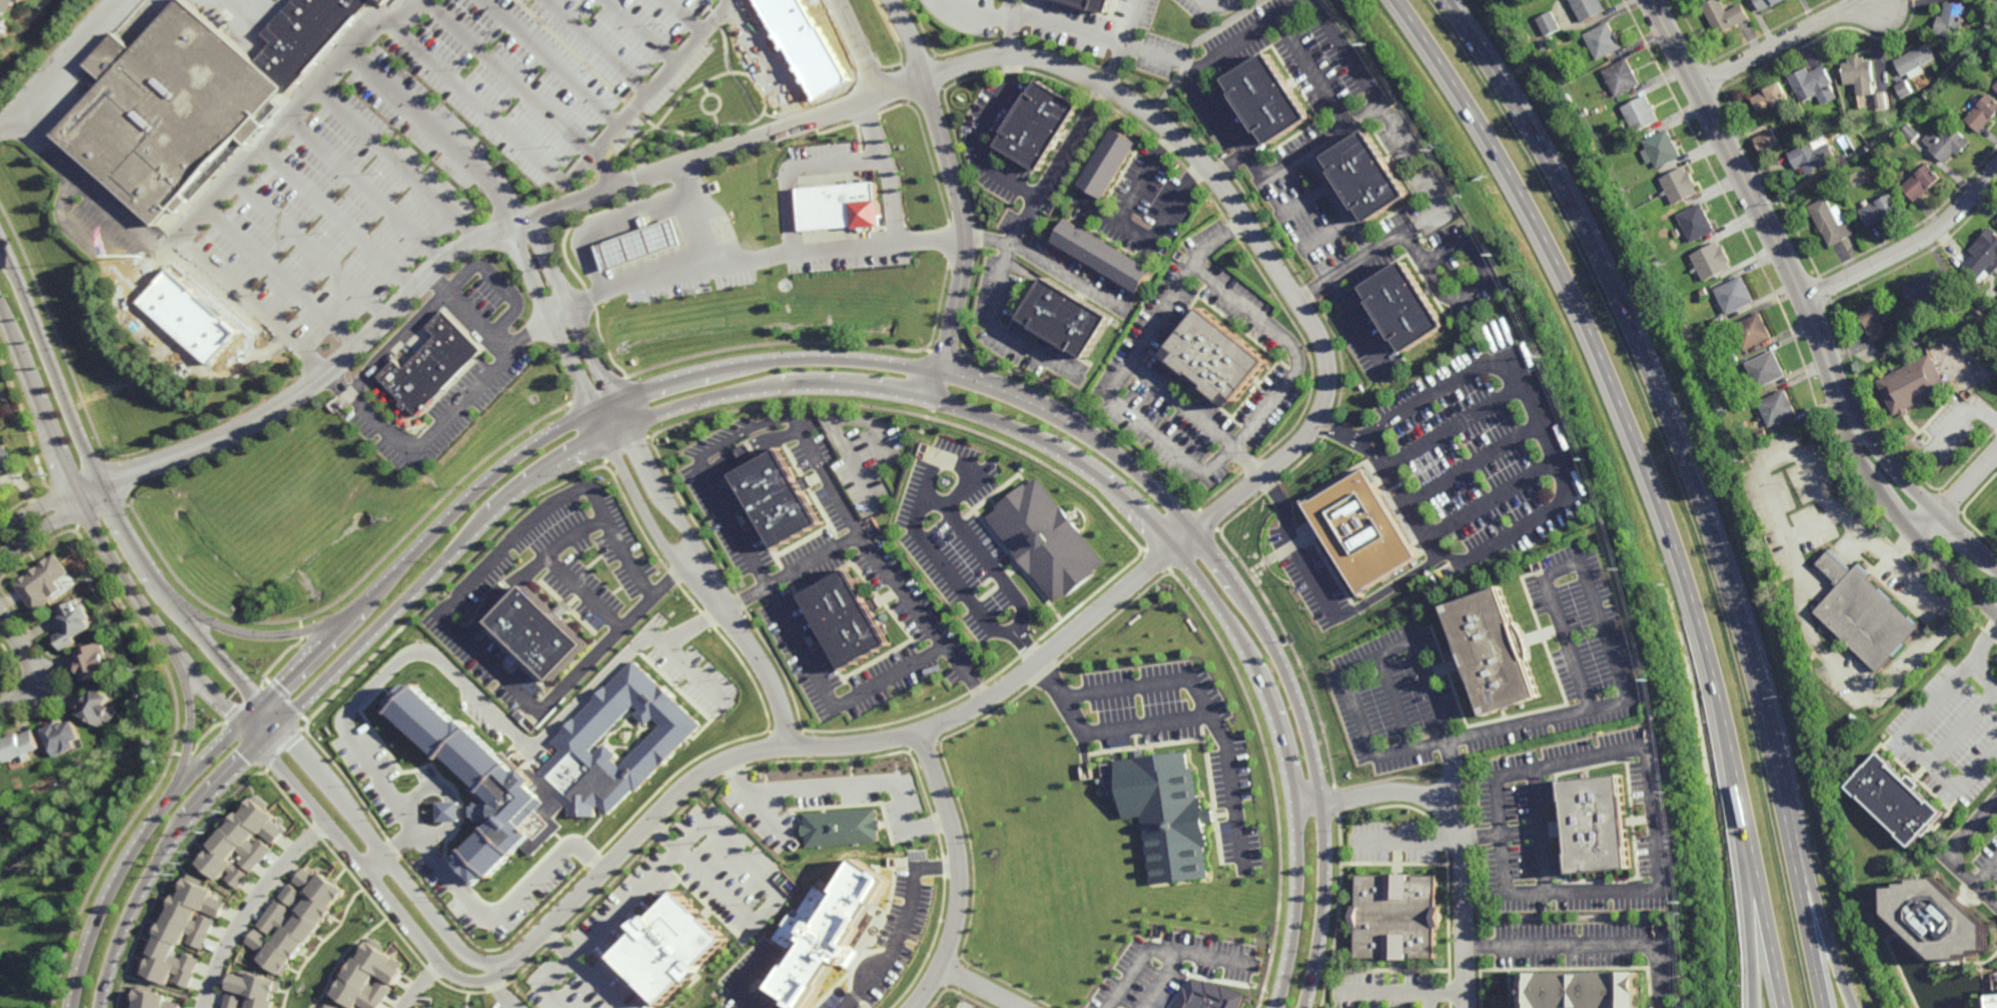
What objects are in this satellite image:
building: (25, 0)
building: (389, 1)
building: (381, 2)
building: (1767, 3)
building: (1095, 4)
road: (1217, 8)
building: (1588, 8)
building: (1724, 15)
building: (6, 16)
road: (686, 17)
building: (1952, 20)
building: (1549, 23)
road: (1010, 28)
road: (642, 32)
building: (303, 36)
road: (1251, 37)
road: (1787, 38)
building: (1604, 41)
road: (1116, 43)
road: (1125, 43)
power tower: (1368, 44)
road: (598, 46)
road: (856, 46)
road: (1196, 47)
road: (1340, 55)
building: (1915, 58)
road: (552, 63)
road: (56, 65)
building: (1552, 73)
road: (1313, 75)
building: (1622, 76)
building: (1865, 81)
building: (1813, 84)
building: (1995, 86)
building: (1904, 89)
road: (524, 90)
road: (864, 98)
building: (1272, 98)
building: (1569, 99)
building: (1771, 99)
building: (169, 109)
building: (1983, 112)
building: (1641, 113)
building: (1039, 125)
road: (1398, 129)
building: (1909, 133)
road: (985, 138)
road: (438, 139)
building: (1766, 141)
building: (1946, 143)
road: (1321, 146)
power tower: (1435, 147)
building: (1660, 149)
building: (1812, 157)
building: (1110, 164)
road: (1057, 165)
road: (395, 166)
road: (1229, 166)
road: (1254, 167)
road: (799, 169)
road: (888, 169)
road: (573, 177)
building: (1368, 177)
road: (1148, 180)
building: (1920, 182)
building: (1678, 186)
road: (221, 190)
road: (365, 192)
road: (960, 196)
road: (1337, 201)
road: (1175, 203)
road: (1303, 203)
road: (1757, 205)
building: (842, 207)
building: (1879, 210)
road: (1100, 213)
road: (700, 215)
road: (1417, 219)
road: (339, 220)
road: (610, 220)
building: (1828, 222)
building: (1696, 223)
road: (1135, 234)
road: (1326, 239)
road: (989, 243)
building: (642, 245)
road: (1909, 246)
road: (309, 250)
road: (106, 252)
power tower: (1497, 255)
road: (767, 256)
building: (1984, 256)
building: (1104, 257)
road: (1476, 261)
building: (1711, 261)
road: (1422, 263)
road: (1333, 275)
road: (281, 278)
road: (1066, 278)
road: (499, 283)
building: (1925, 287)
building: (1671, 290)
building: (1704, 292)
building: (1734, 295)
road: (1170, 302)
road: (251, 304)
building: (1406, 309)
road: (575, 311)
road: (473, 313)
road: (1246, 313)
building: (1066, 317)
road: (554, 319)
building: (1877, 319)
road: (1353, 324)
building: (1720, 328)
building: (1752, 331)
road: (996, 332)
building: (1887, 354)
power tower: (1547, 357)
building: (1734, 358)
building: (1217, 360)
building: (1738, 364)
road: (193, 365)
building: (437, 365)
building: (1766, 370)
building: (1913, 385)
road: (769, 388)
building: (1744, 404)
building: (1777, 408)
road: (1409, 411)
road: (1965, 416)
road: (1199, 418)
road: (447, 419)
road: (1251, 420)
road: (1067, 421)
road: (858, 422)
road: (1450, 430)
road: (1534, 431)
building: (1762, 433)
road: (746, 435)
road: (1156, 435)
building: (5, 459)
road: (857, 461)
power tower: (1590, 461)
road: (1469, 466)
road: (956, 470)
road: (1650, 480)
road: (1691, 482)
building: (1, 487)
road: (925, 493)
road: (1919, 494)
road: (1956, 494)
road: (963, 495)
road: (1403, 498)
building: (778, 499)
road: (937, 501)
road: (109, 502)
road: (1489, 503)
road: (49, 513)
road: (1908, 525)
road: (1815, 528)
building: (1364, 530)
road: (687, 532)
building: (1047, 539)
road: (1501, 539)
road: (102, 545)
road: (664, 546)
road: (1295, 548)
road: (879, 566)
road: (994, 568)
power tower: (1620, 568)
road: (1833, 568)
road: (1564, 569)
road: (531, 573)
road: (793, 573)
building: (39, 582)
road: (766, 582)
road: (1803, 584)
road: (961, 588)
road: (1388, 588)
road: (582, 594)
building: (1862, 612)
road: (442, 619)
building: (845, 619)
building: (72, 623)
road: (262, 636)
building: (541, 636)
road: (1984, 646)
road: (1025, 650)
building: (1496, 650)
road: (1384, 658)
building: (92, 661)
road: (32, 663)
road: (688, 670)
road: (887, 677)
road: (1984, 679)
road: (383, 680)
power tower: (1651, 683)
road: (1131, 684)
road: (1069, 691)
road: (1203, 696)
road: (776, 703)
building: (95, 707)
road: (192, 714)
road: (1152, 722)
road: (1966, 727)
road: (1501, 728)
parking lot: (1184, 733)
building: (61, 738)
road: (226, 743)
building: (19, 746)
road: (828, 747)
road: (1918, 748)
building: (552, 764)
building: (0, 766)
road: (1569, 766)
road: (1450, 774)
road: (837, 787)
road: (1232, 787)
road: (426, 788)
power tower: (1668, 792)
building: (1896, 799)
road: (1536, 803)
building: (841, 809)
building: (448, 811)
road: (449, 812)
building: (1165, 813)
road: (763, 816)
road: (1651, 821)
building: (1596, 826)
building: (838, 827)
road: (1457, 828)
road: (438, 833)
road: (1499, 833)
road: (1798, 833)
road: (661, 835)
road: (1497, 837)
building: (246, 842)
road: (1410, 846)
road: (391, 852)
road: (1945, 854)
road: (386, 858)
road: (1544, 861)
road: (1741, 866)
road: (954, 875)
road: (1987, 875)
road: (374, 886)
road: (1526, 891)
road: (1604, 891)
road: (773, 896)
power tower: (1682, 903)
road: (623, 904)
road: (252, 908)
parking lot: (749, 915)
building: (1396, 917)
building: (297, 920)
building: (1941, 922)
road: (899, 928)
building: (824, 931)
building: (187, 932)
building: (673, 943)
road: (556, 944)
road: (1162, 946)
road: (1559, 947)
road: (1877, 951)
road: (1162, 976)
building: (371, 977)
road: (745, 977)
road: (1655, 978)
road: (548, 983)
road: (596, 984)
road: (420, 986)
road: (977, 988)
building: (1582, 990)
building: (254, 991)
road: (1403, 991)
road: (505, 993)
building: (1205, 995)
building: (156, 999)
road: (1429, 999)
road: (1379, 1000)
building: (1994, 1004)
building: (330, 1006)

